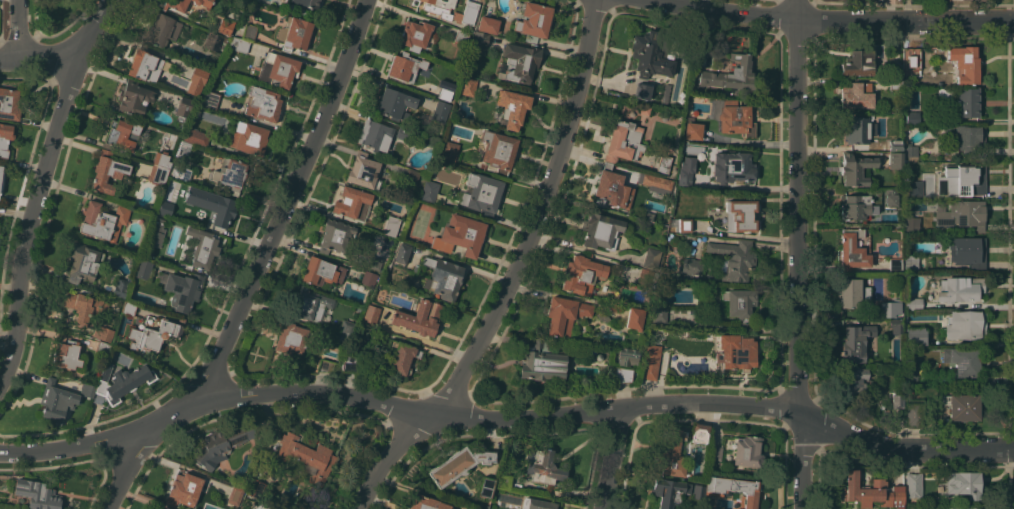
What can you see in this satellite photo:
building: (973, 0)
building: (202, 2)
building: (308, 3)
building: (175, 4)
road: (797, 10)
building: (455, 15)
road: (830, 20)
building: (533, 21)
building: (487, 24)
building: (224, 26)
road: (17, 28)
building: (163, 29)
building: (249, 31)
building: (294, 33)
building: (414, 35)
building: (461, 36)
building: (224, 40)
building: (212, 41)
building: (479, 42)
building: (238, 44)
building: (654, 55)
road: (37, 56)
building: (911, 61)
building: (518, 63)
building: (857, 63)
building: (964, 64)
building: (144, 65)
building: (404, 65)
building: (279, 69)
building: (895, 69)
building: (200, 73)
building: (731, 74)
building: (894, 84)
building: (468, 86)
building: (641, 91)
building: (446, 92)
building: (855, 94)
building: (134, 97)
building: (208, 99)
building: (967, 101)
building: (263, 103)
building: (394, 103)
building: (8, 104)
building: (183, 106)
building: (512, 107)
building: (644, 109)
building: (440, 111)
building: (378, 117)
building: (912, 117)
building: (735, 119)
building: (855, 129)
building: (693, 130)
building: (402, 132)
building: (121, 134)
building: (374, 134)
building: (196, 136)
building: (964, 136)
building: (248, 137)
building: (5, 138)
building: (623, 141)
road: (762, 141)
building: (895, 144)
building: (497, 149)
building: (183, 150)
building: (448, 151)
building: (909, 152)
building: (161, 159)
building: (895, 160)
building: (736, 165)
building: (662, 167)
building: (854, 168)
building: (181, 169)
building: (107, 171)
building: (363, 171)
building: (230, 172)
building: (157, 173)
building: (684, 174)
building: (1, 175)
building: (411, 175)
building: (180, 176)
building: (960, 180)
building: (655, 183)
road: (39, 184)
building: (912, 188)
building: (613, 189)
building: (429, 191)
building: (480, 193)
building: (890, 197)
building: (352, 203)
building: (165, 205)
building: (855, 206)
building: (217, 208)
building: (963, 214)
building: (739, 215)
building: (103, 220)
building: (683, 224)
building: (910, 225)
building: (391, 226)
building: (600, 230)
building: (156, 232)
building: (335, 235)
building: (460, 235)
building: (381, 239)
building: (202, 247)
building: (852, 250)
building: (967, 251)
building: (401, 252)
building: (651, 258)
building: (733, 259)
building: (374, 261)
building: (83, 262)
building: (910, 263)
road: (799, 264)
building: (895, 264)
building: (691, 265)
road: (259, 267)
building: (142, 269)
building: (322, 271)
road: (511, 271)
building: (582, 273)
building: (443, 277)
building: (645, 277)
building: (368, 278)
building: (119, 289)
building: (959, 289)
building: (182, 290)
building: (853, 293)
building: (309, 303)
building: (913, 303)
building: (740, 304)
building: (84, 306)
building: (129, 307)
building: (891, 308)
building: (658, 314)
building: (370, 315)
building: (564, 315)
building: (419, 317)
building: (634, 318)
building: (965, 324)
building: (895, 325)
building: (346, 328)
building: (103, 333)
building: (153, 334)
building: (915, 335)
building: (290, 338)
building: (336, 339)
building: (854, 342)
building: (102, 347)
building: (734, 351)
building: (66, 354)
building: (401, 356)
building: (598, 356)
building: (627, 356)
building: (963, 360)
building: (650, 361)
building: (541, 362)
building: (349, 364)
building: (325, 365)
building: (588, 368)
building: (621, 374)
building: (910, 374)
building: (853, 380)
building: (124, 382)
building: (87, 390)
road: (307, 391)
building: (56, 401)
building: (896, 401)
road: (709, 405)
building: (962, 406)
building: (913, 415)
building: (699, 432)
building: (219, 444)
building: (747, 451)
building: (715, 452)
road: (902, 452)
building: (671, 453)
building: (306, 456)
road: (609, 458)
building: (458, 464)
building: (542, 466)
building: (503, 481)
building: (914, 481)
building: (964, 484)
building: (486, 487)
building: (184, 488)
building: (255, 488)
building: (735, 490)
building: (668, 491)
building: (698, 492)
building: (871, 492)
building: (37, 494)
building: (234, 496)
building: (426, 503)
building: (536, 504)
building: (272, 508)
building: (471, 508)
building: (964, 508)

